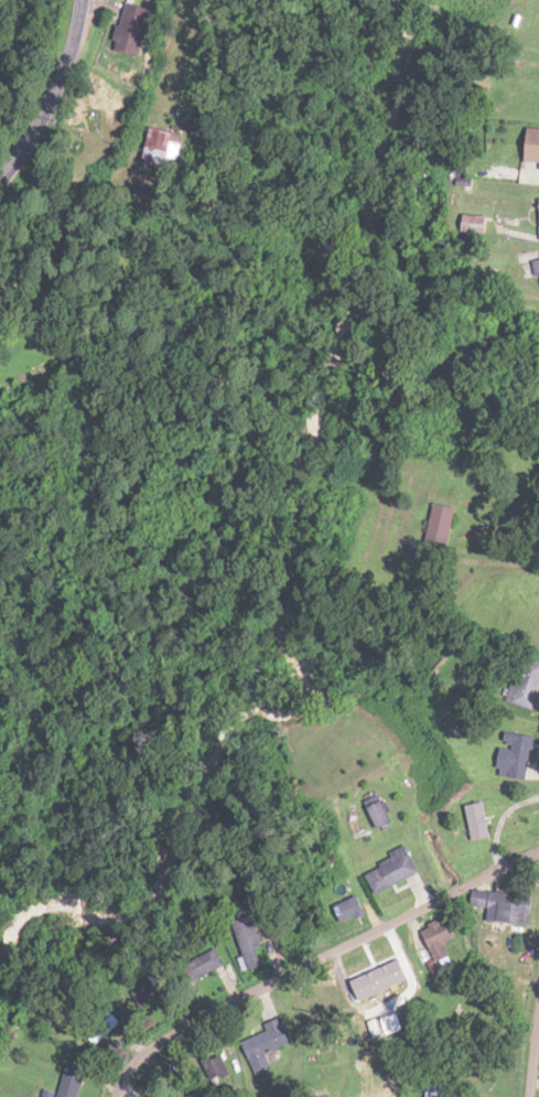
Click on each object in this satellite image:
road: (50, 68)
building: (532, 144)
building: (159, 147)
building: (538, 170)
building: (536, 267)
building: (441, 518)
building: (527, 681)
building: (517, 754)
building: (381, 815)
building: (478, 820)
building: (394, 869)
building: (503, 905)
building: (439, 937)
building: (249, 939)
road: (313, 960)
building: (203, 964)
building: (154, 990)
building: (266, 1039)
road: (536, 1075)
building: (71, 1080)

